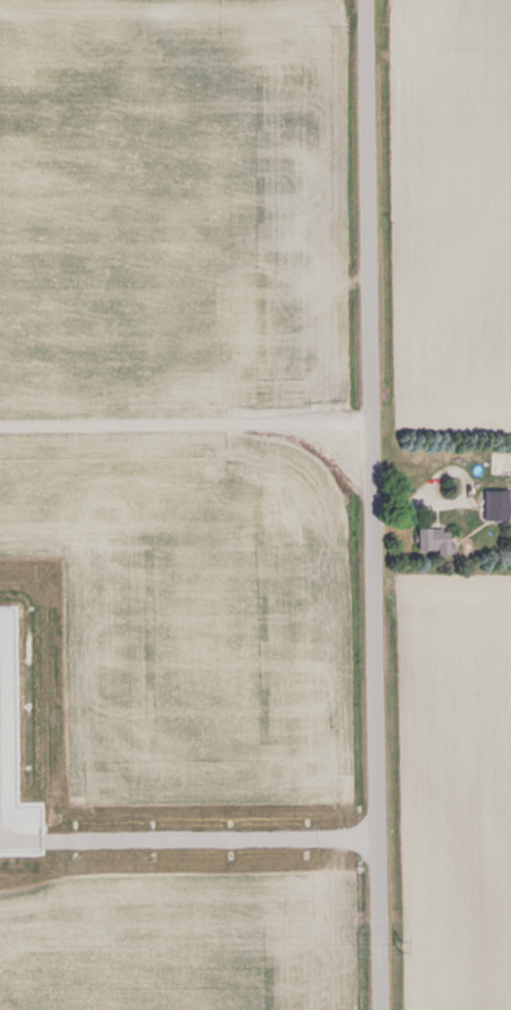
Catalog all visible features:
building: (497, 504)
road: (377, 505)
building: (436, 538)
power substation: (16, 752)
road: (217, 843)
road: (25, 845)
power tower: (407, 944)

